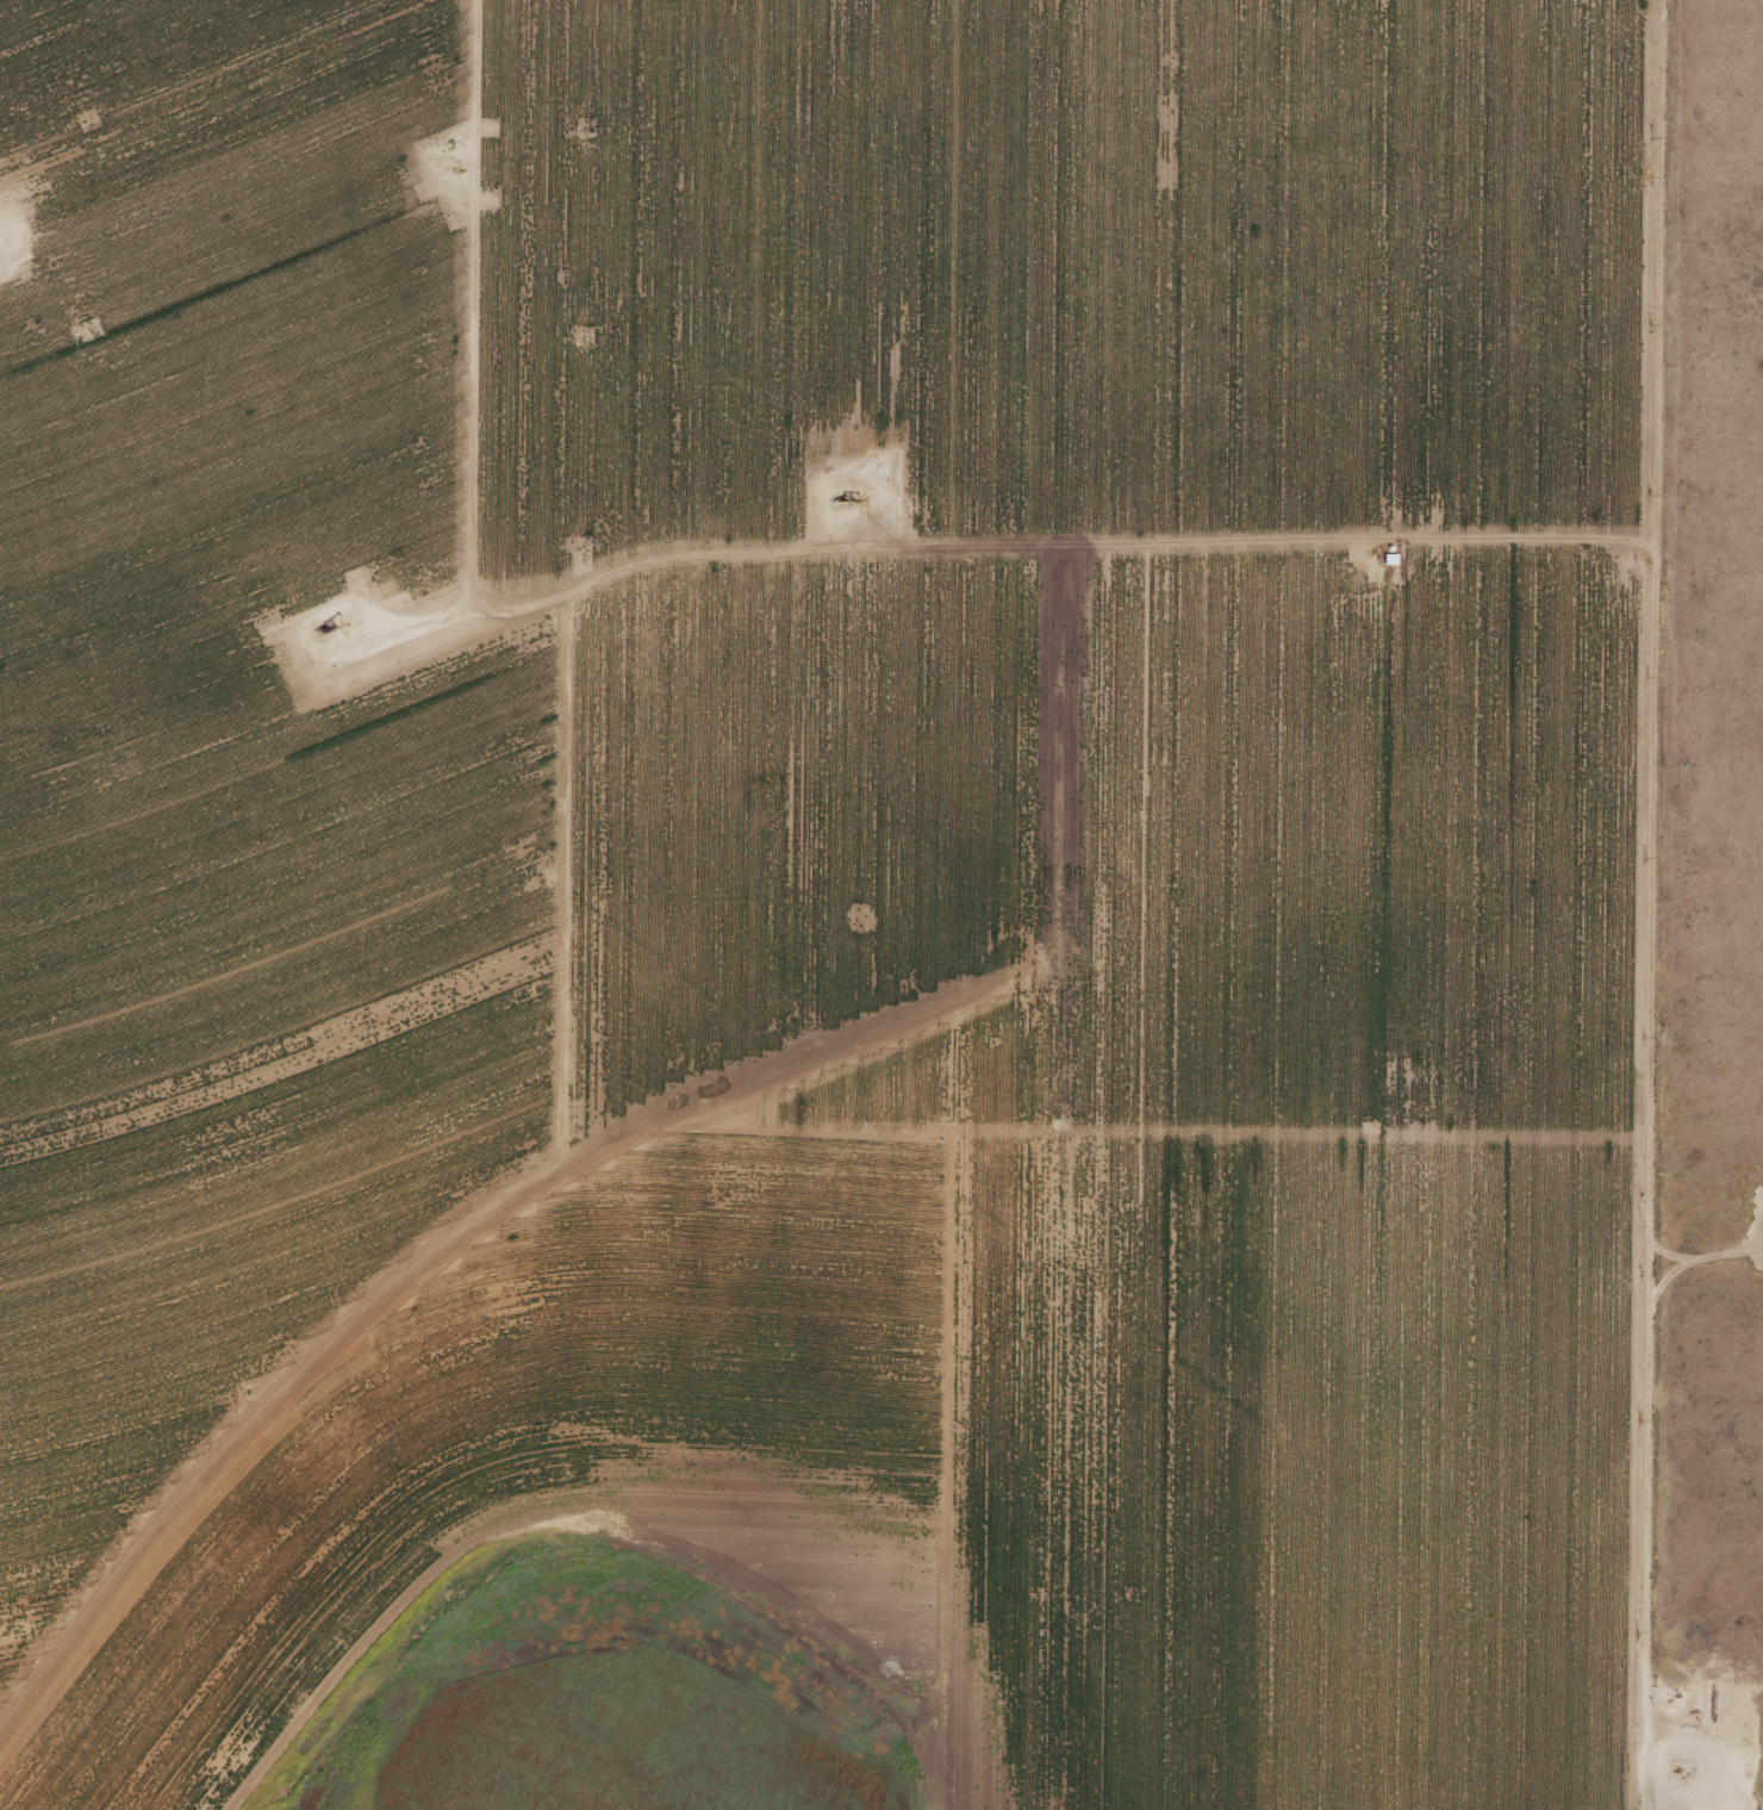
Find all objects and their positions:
road: (1622, 904)

